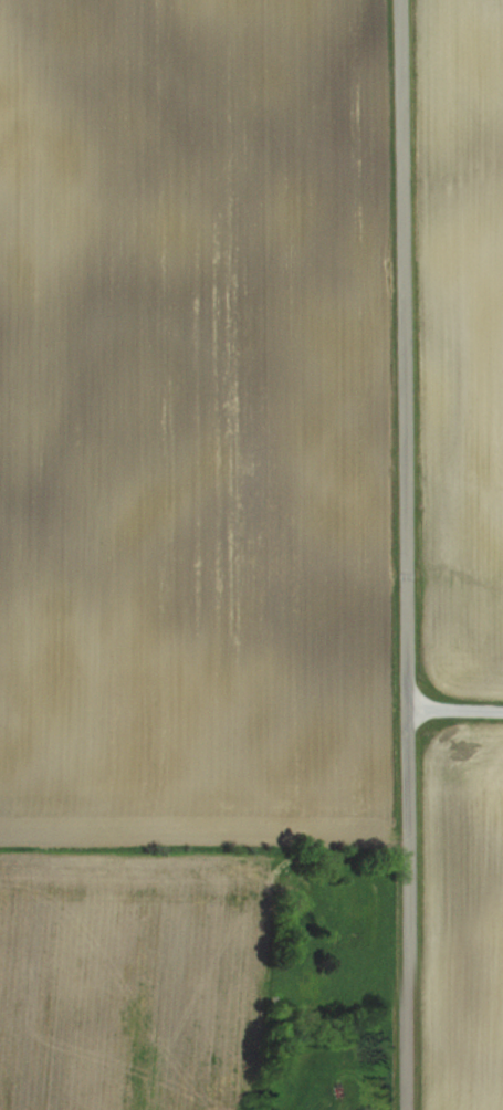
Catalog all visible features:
road: (407, 554)
road: (455, 703)
building: (352, 1107)

